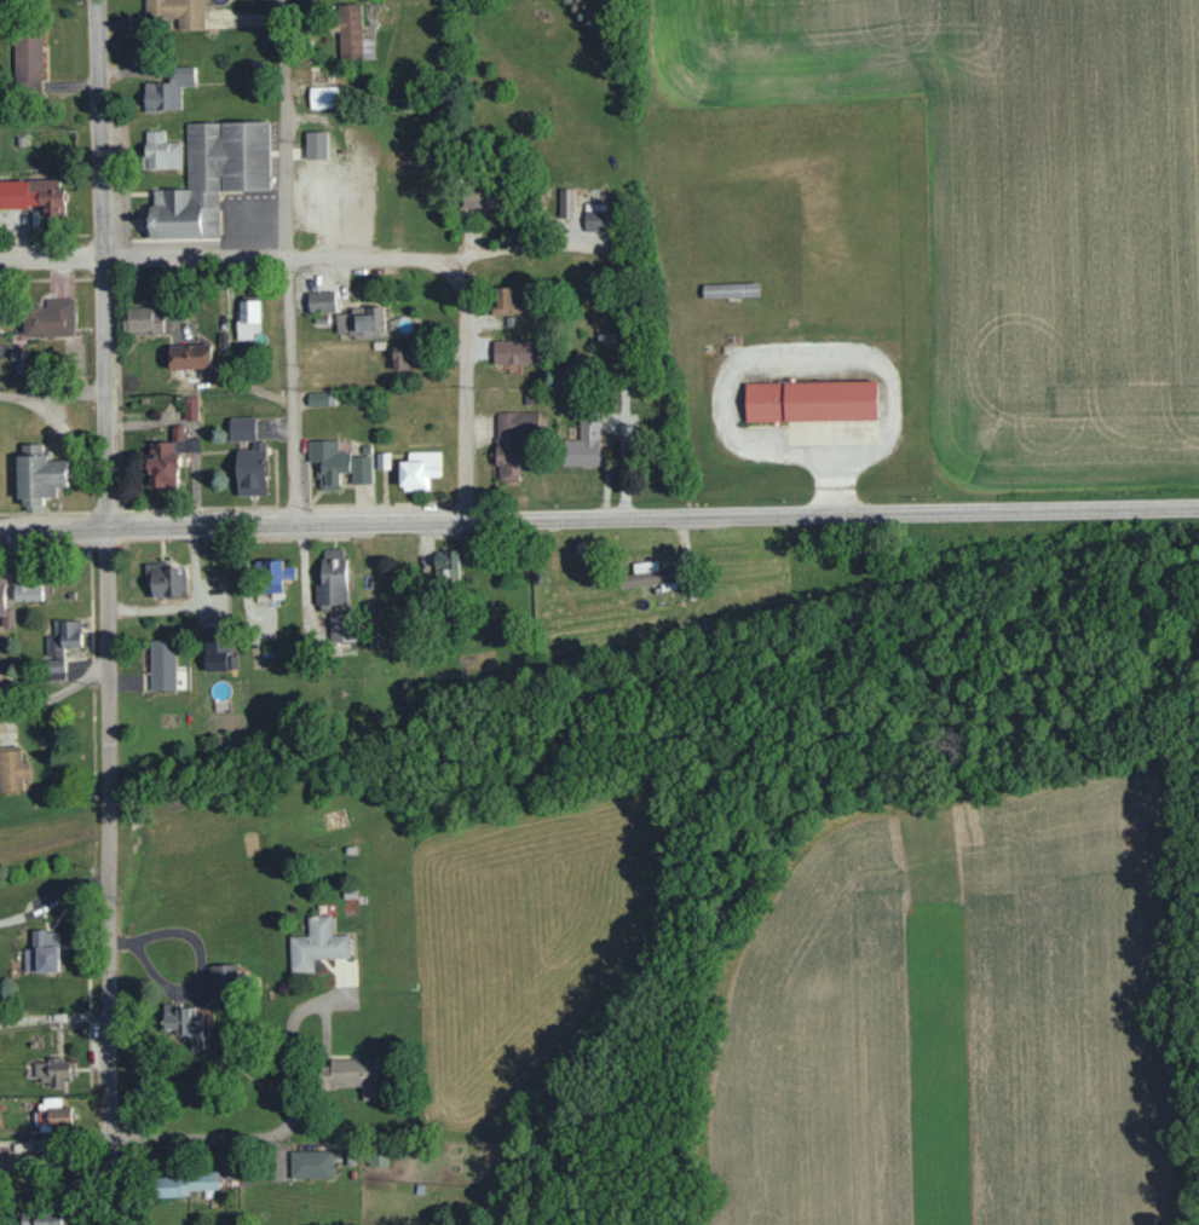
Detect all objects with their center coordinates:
building: (178, 11)
building: (351, 31)
building: (28, 59)
building: (168, 88)
building: (324, 96)
building: (316, 145)
building: (161, 151)
building: (214, 179)
building: (30, 192)
building: (479, 196)
parking lot: (338, 198)
road: (342, 198)
building: (565, 202)
building: (595, 215)
parking lot: (249, 218)
road: (249, 220)
road: (520, 249)
road: (51, 256)
road: (272, 259)
road: (284, 262)
road: (102, 265)
building: (731, 289)
building: (321, 300)
building: (514, 300)
building: (51, 318)
building: (143, 319)
building: (248, 319)
building: (361, 319)
building: (515, 351)
building: (191, 354)
building: (405, 356)
road: (784, 357)
road: (468, 386)
road: (53, 393)
building: (317, 398)
building: (811, 398)
building: (190, 408)
building: (242, 427)
building: (179, 439)
building: (513, 440)
building: (584, 443)
building: (338, 463)
building: (163, 464)
road: (834, 466)
building: (252, 469)
building: (420, 469)
building: (39, 475)
road: (462, 503)
road: (384, 504)
road: (200, 508)
road: (1015, 508)
road: (293, 509)
road: (106, 510)
road: (45, 512)
road: (766, 515)
road: (583, 519)
road: (287, 525)
road: (53, 531)
road: (46, 560)
building: (446, 561)
building: (276, 577)
building: (165, 579)
building: (332, 579)
building: (28, 587)
building: (2, 591)
building: (340, 626)
building: (60, 645)
building: (218, 647)
building: (162, 665)
road: (56, 693)
building: (12, 770)
road: (110, 877)
building: (317, 944)
building: (42, 952)
building: (224, 981)
building: (184, 1021)
building: (53, 1071)
building: (356, 1075)
building: (53, 1111)
road: (281, 1134)
road: (56, 1162)
building: (311, 1163)
building: (188, 1183)
building: (41, 1218)

